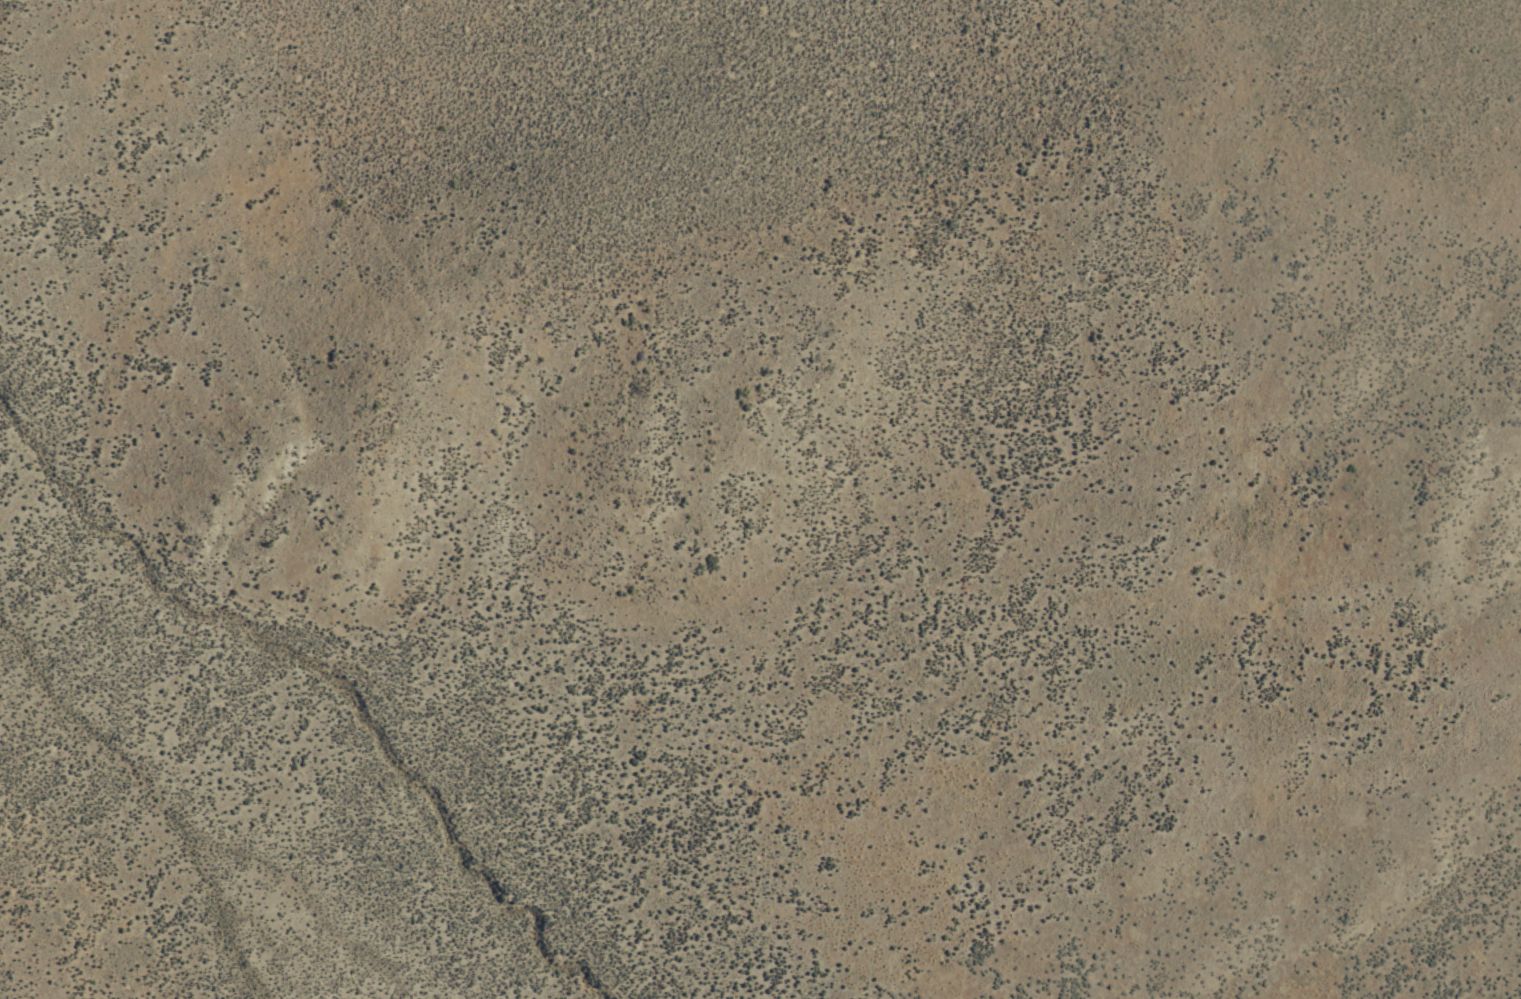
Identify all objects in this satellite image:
crop: (361, 660)

